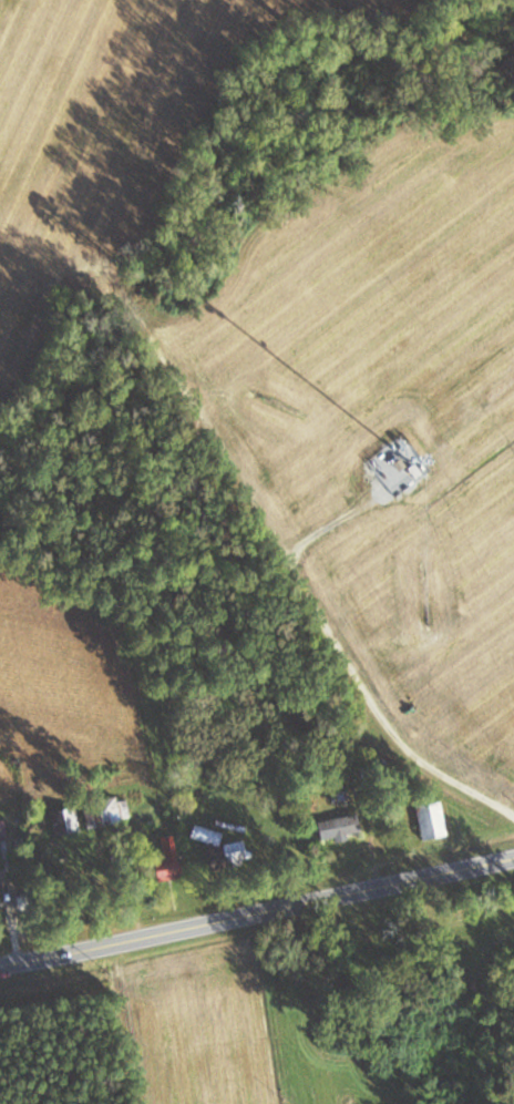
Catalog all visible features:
building: (93, 814)
building: (429, 819)
building: (336, 826)
building: (204, 835)
building: (230, 850)
building: (163, 862)
road: (257, 912)

